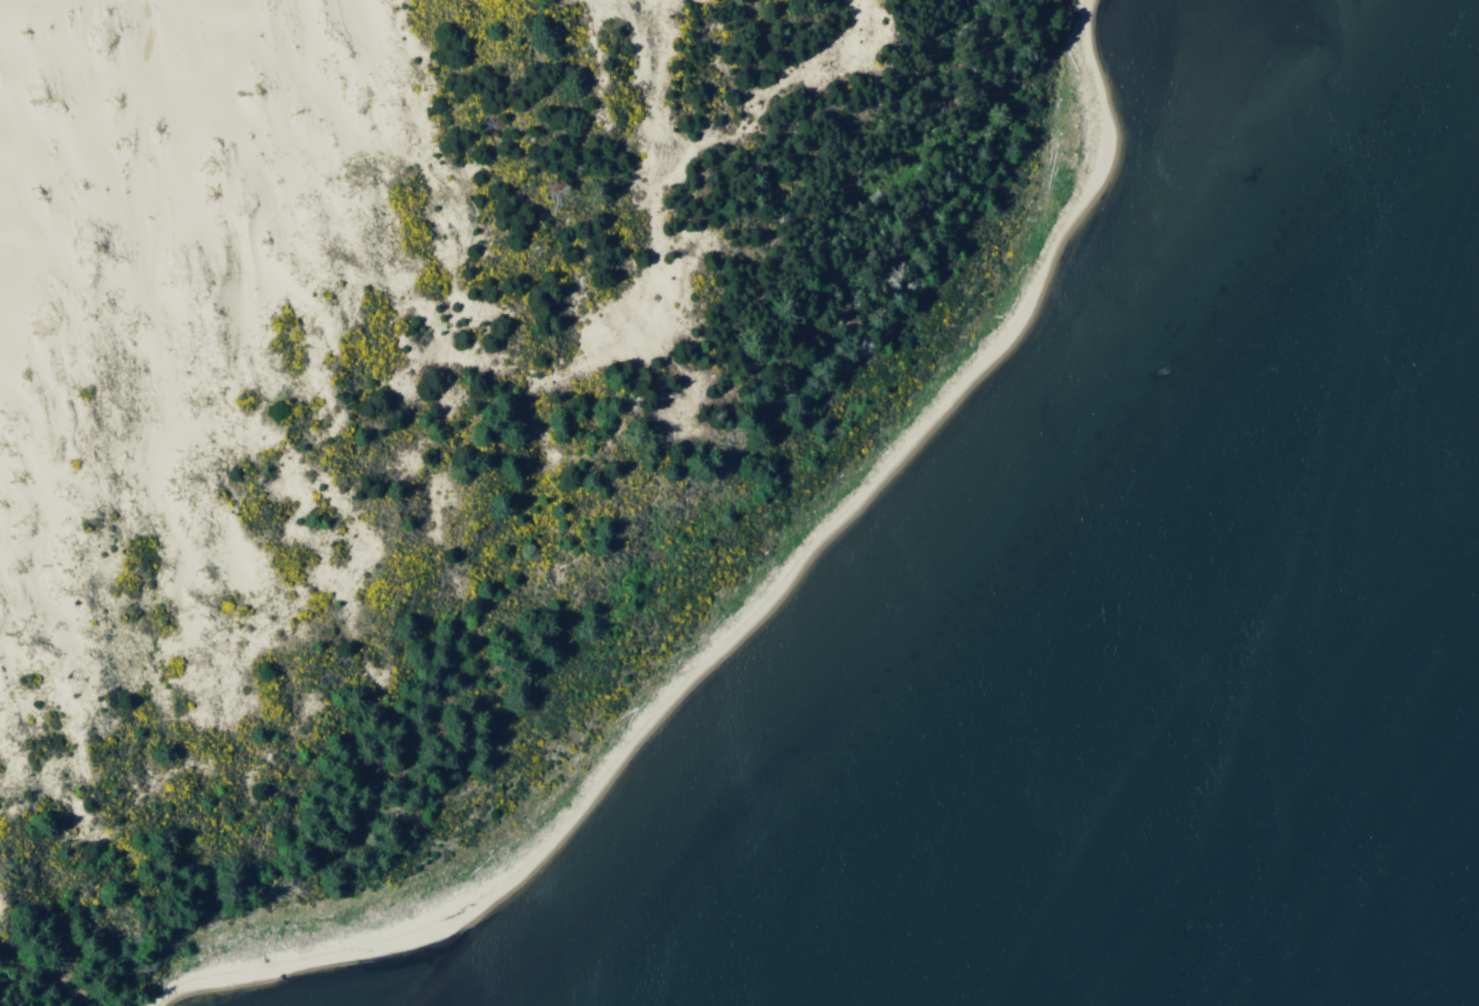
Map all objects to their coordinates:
river: (1433, 952)

